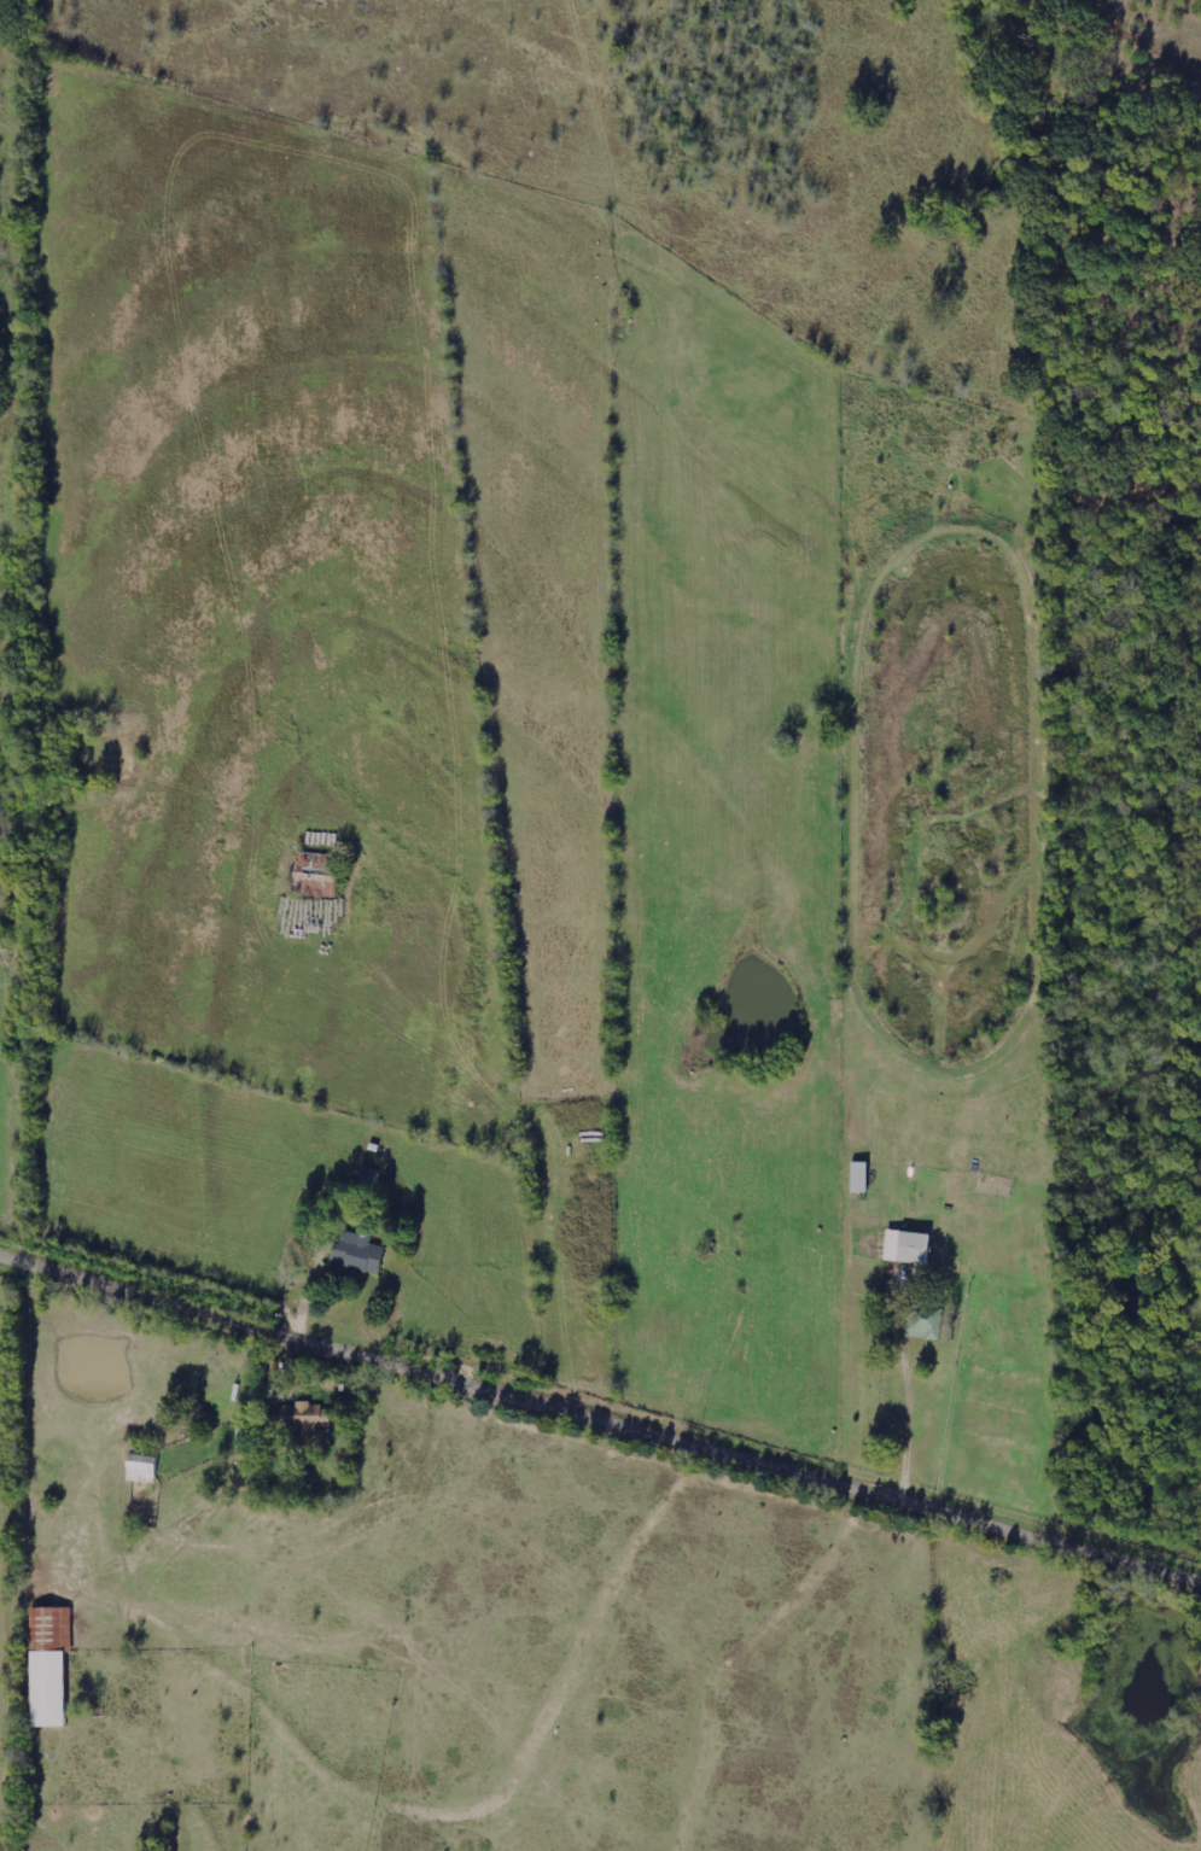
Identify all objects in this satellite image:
building: (315, 874)
building: (905, 1246)
building: (356, 1253)
building: (921, 1325)
building: (307, 1419)
road: (600, 1421)
building: (140, 1468)
building: (47, 1664)

